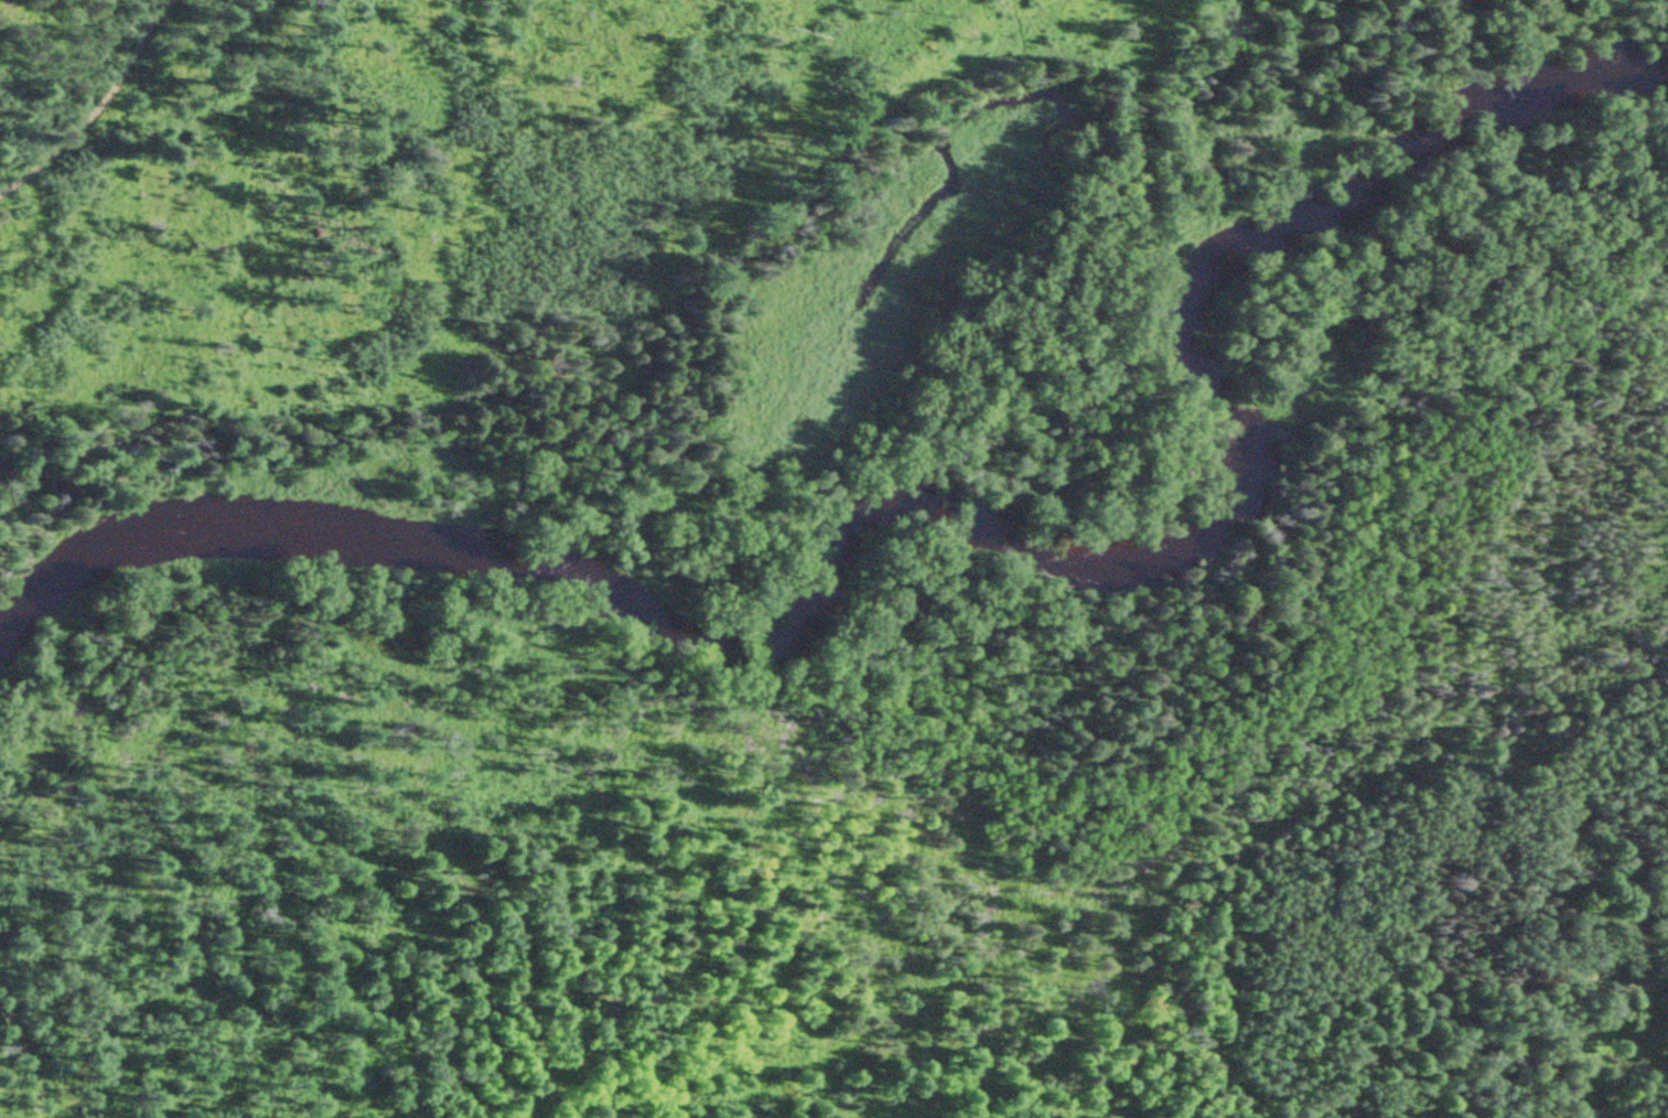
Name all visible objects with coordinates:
river: (955, 509)

